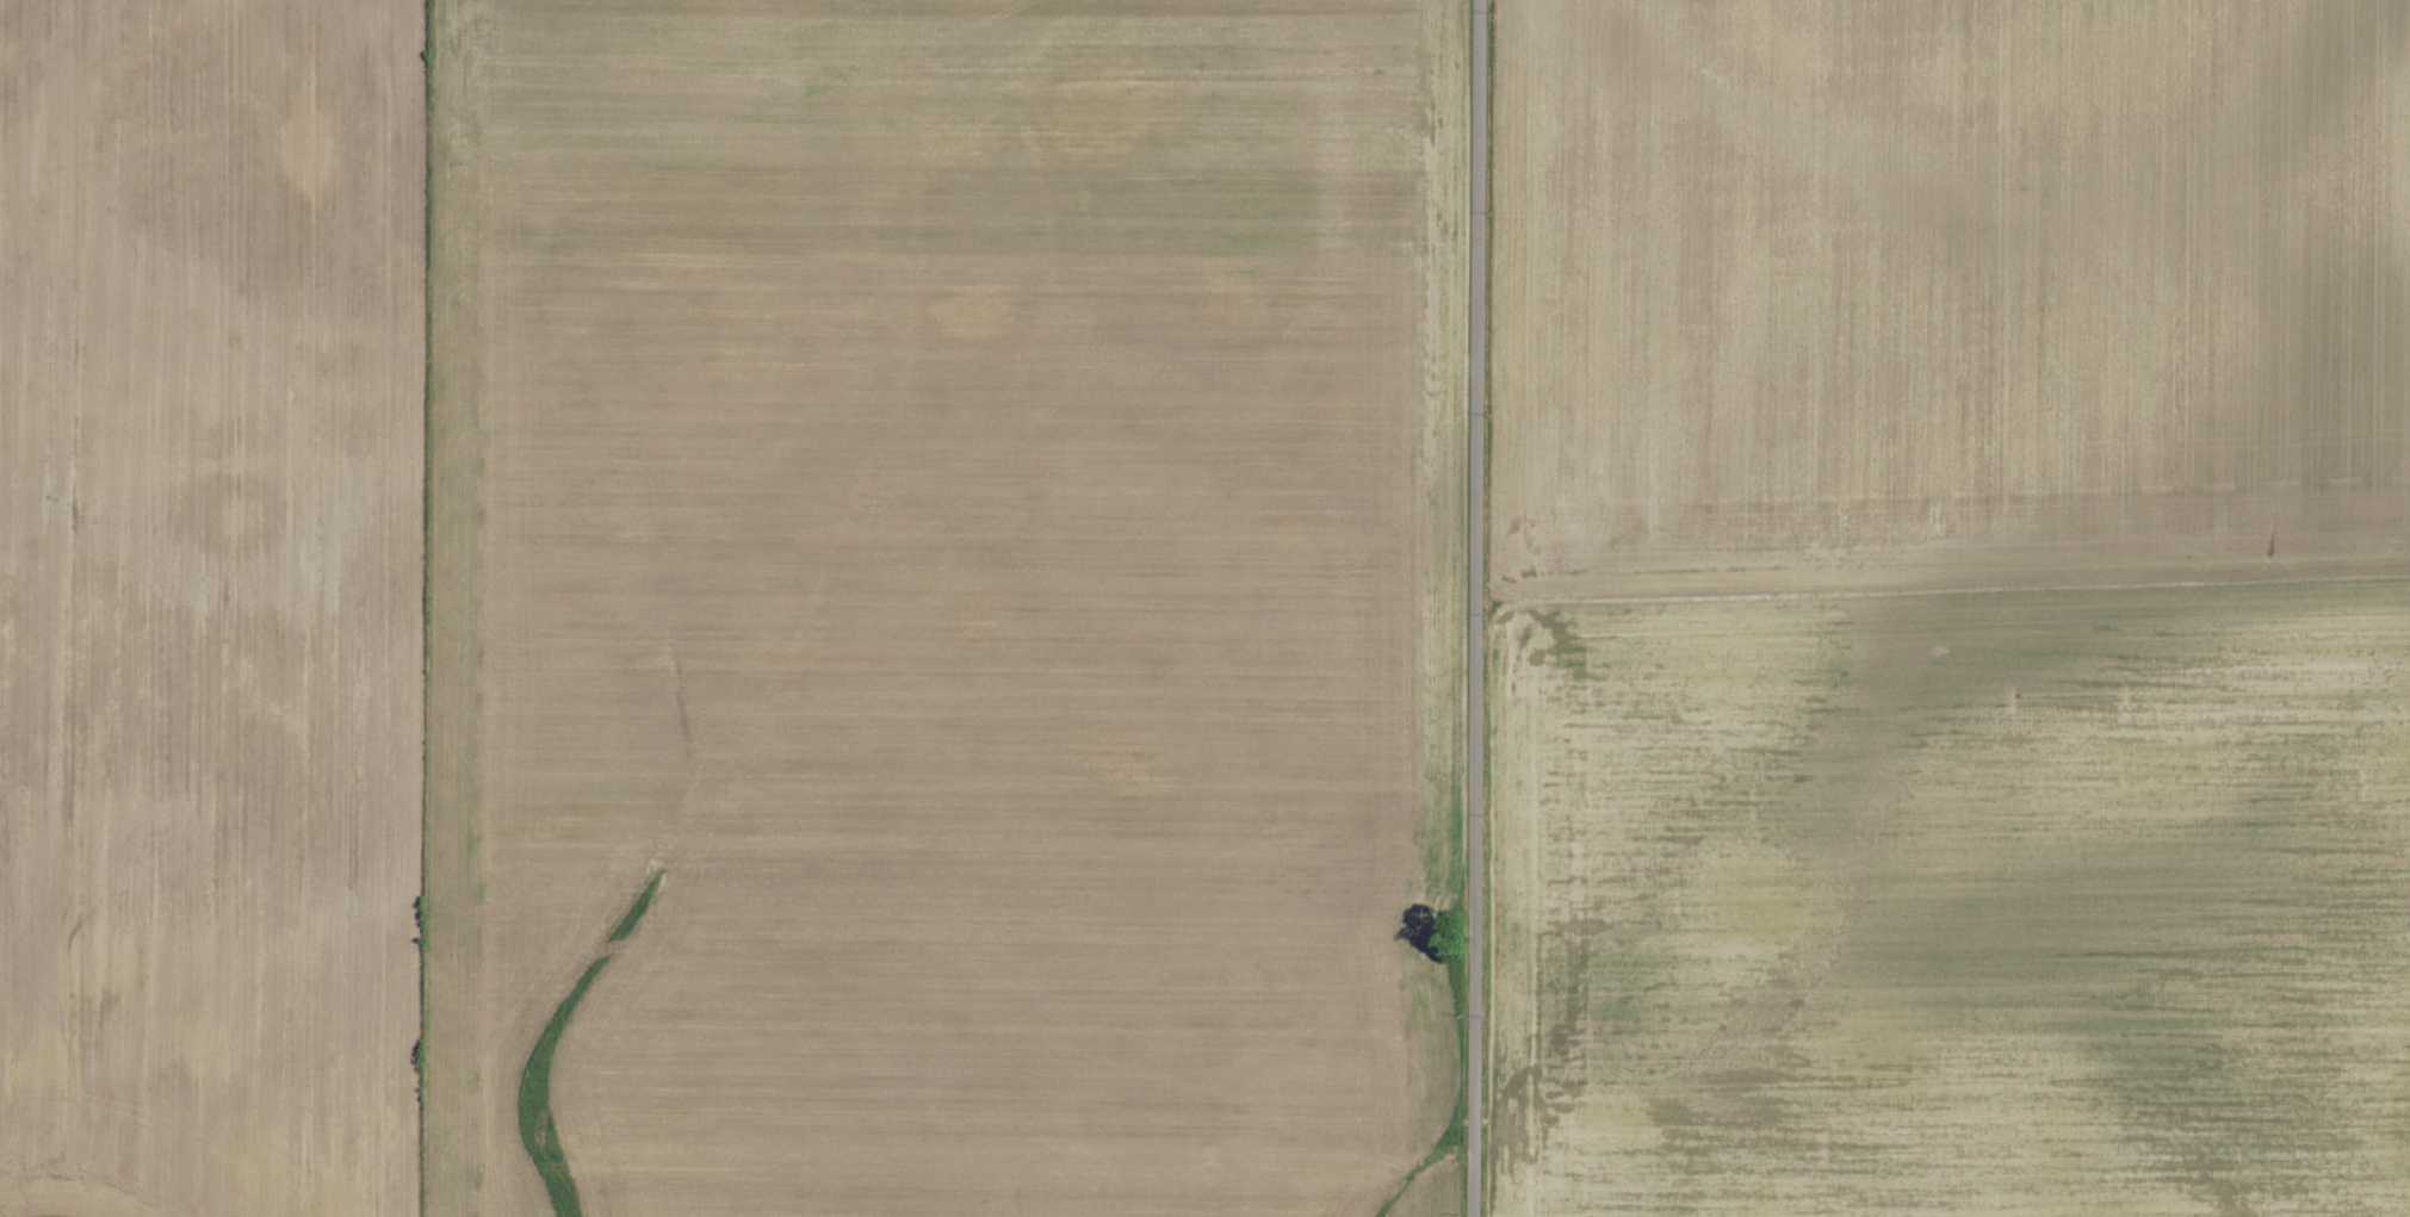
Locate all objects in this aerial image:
road: (1475, 608)

